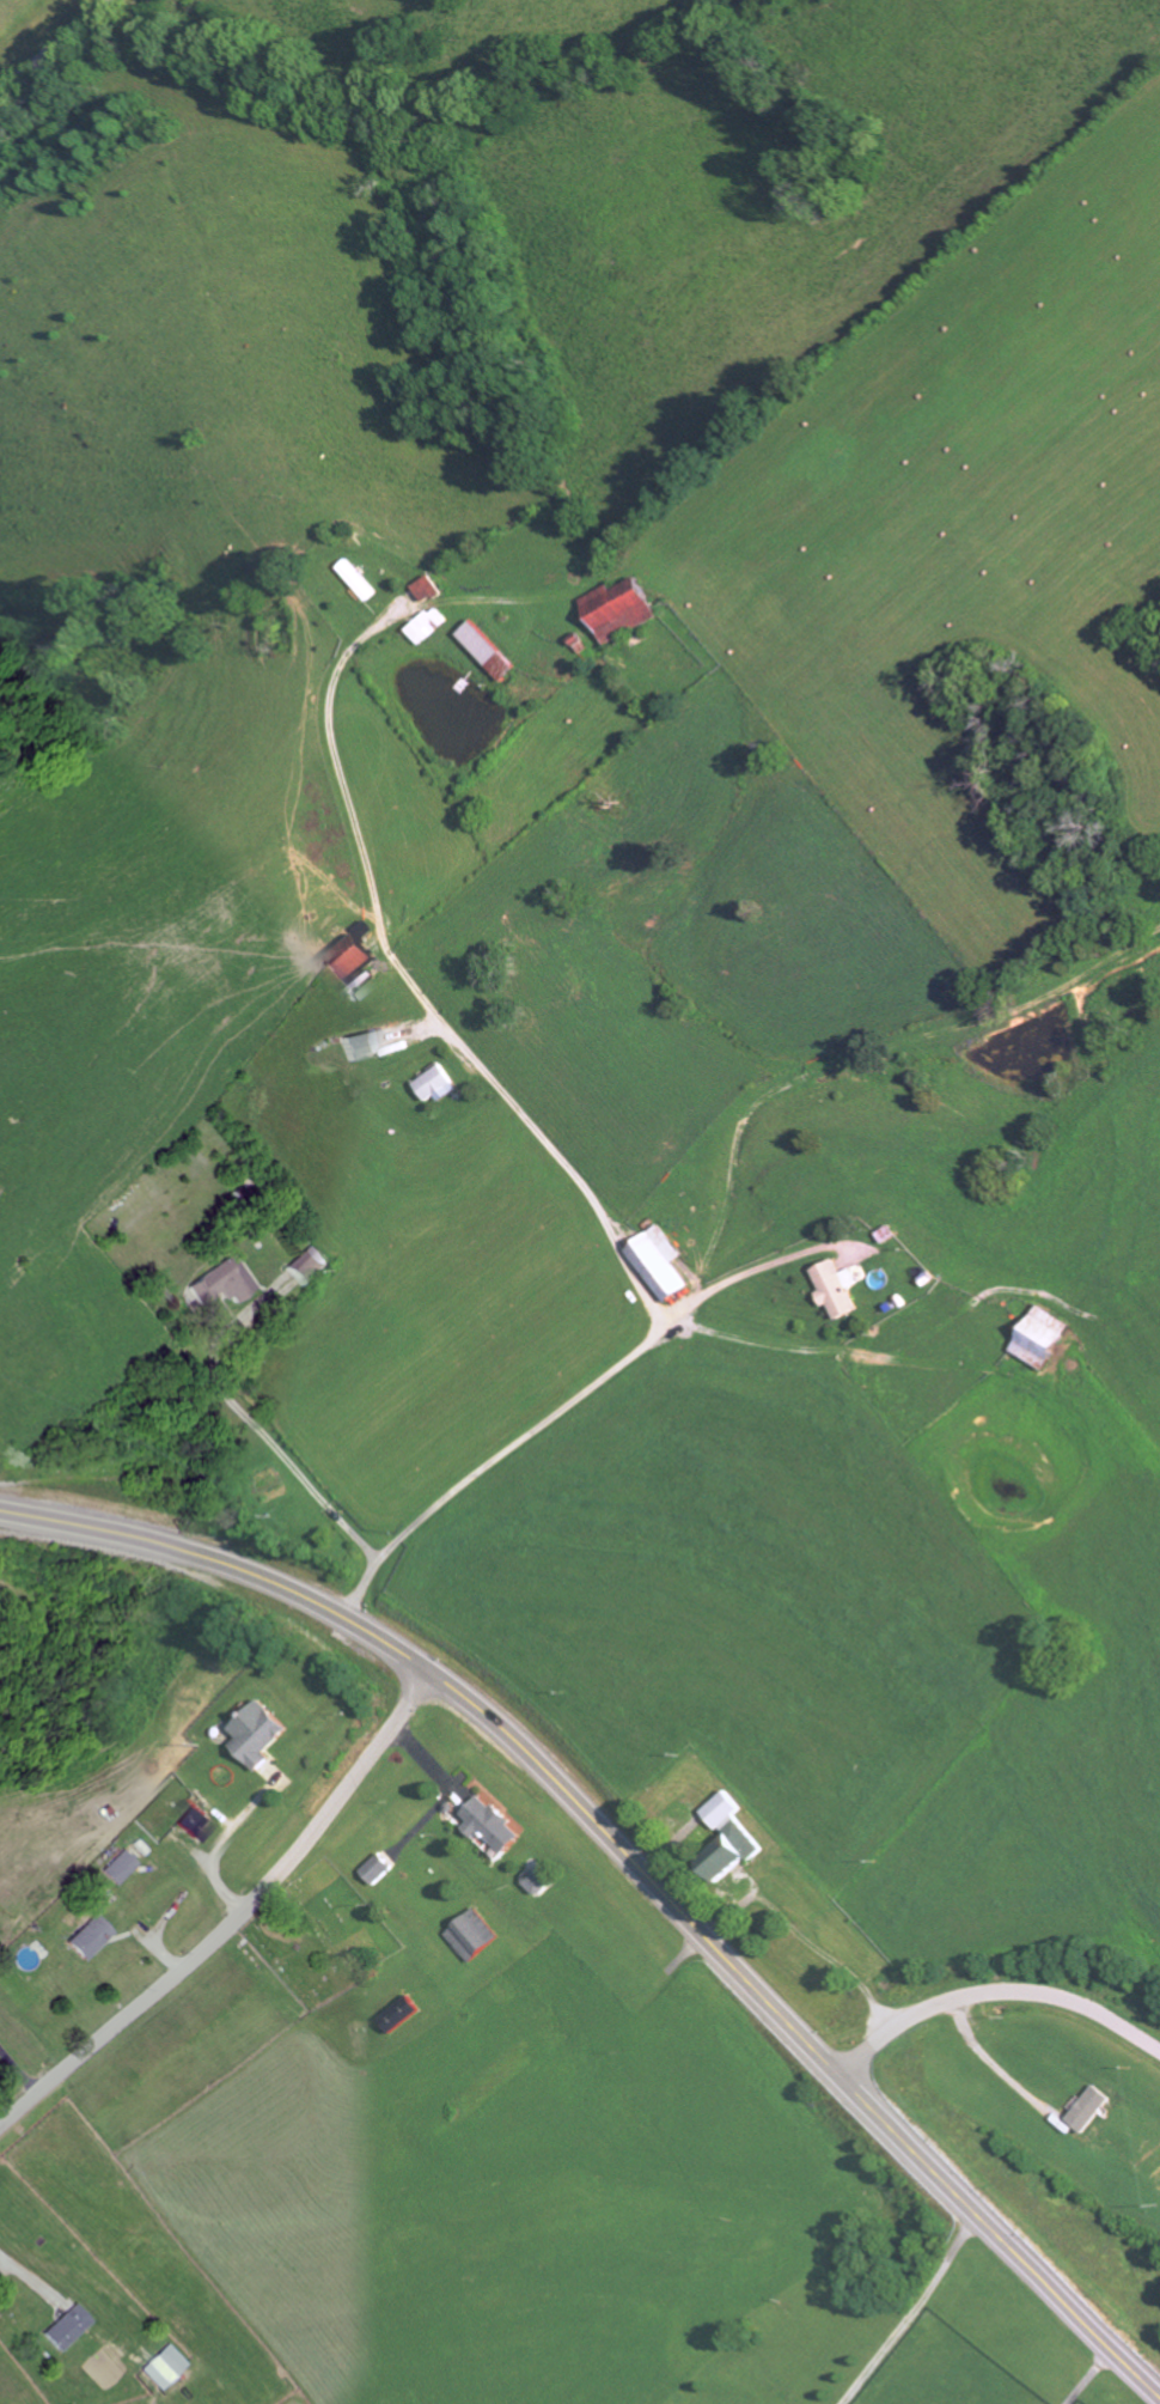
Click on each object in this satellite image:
road: (56, 48)
building: (360, 580)
building: (431, 589)
road: (453, 601)
building: (625, 609)
building: (431, 626)
building: (492, 650)
building: (355, 961)
road: (426, 999)
building: (365, 1046)
building: (441, 1085)
building: (664, 1264)
building: (312, 1268)
road: (759, 1268)
building: (227, 1283)
building: (844, 1288)
building: (1049, 1339)
road: (860, 1353)
road: (256, 1428)
road: (493, 1461)
building: (264, 1735)
building: (729, 1812)
building: (196, 1822)
building: (495, 1826)
building: (737, 1854)
road: (637, 1864)
building: (118, 1868)
building: (379, 1870)
building: (539, 1883)
road: (234, 1918)
building: (476, 1937)
building: (87, 1939)
road: (997, 1991)
building: (407, 2016)
road: (999, 2056)
building: (1099, 2111)
road: (29, 2270)
road: (916, 2313)
building: (67, 2327)
building: (164, 2367)
road: (1095, 2379)

